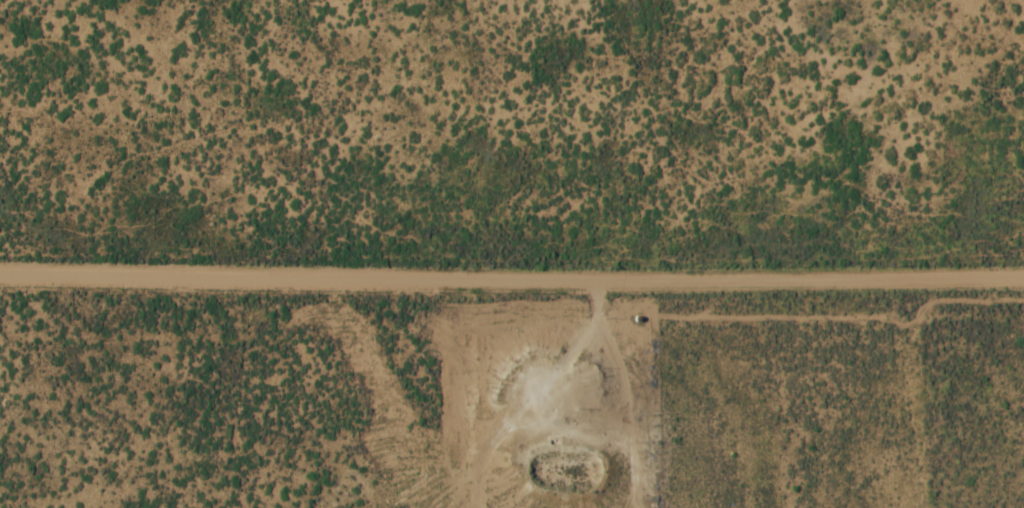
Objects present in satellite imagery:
road: (511, 280)

